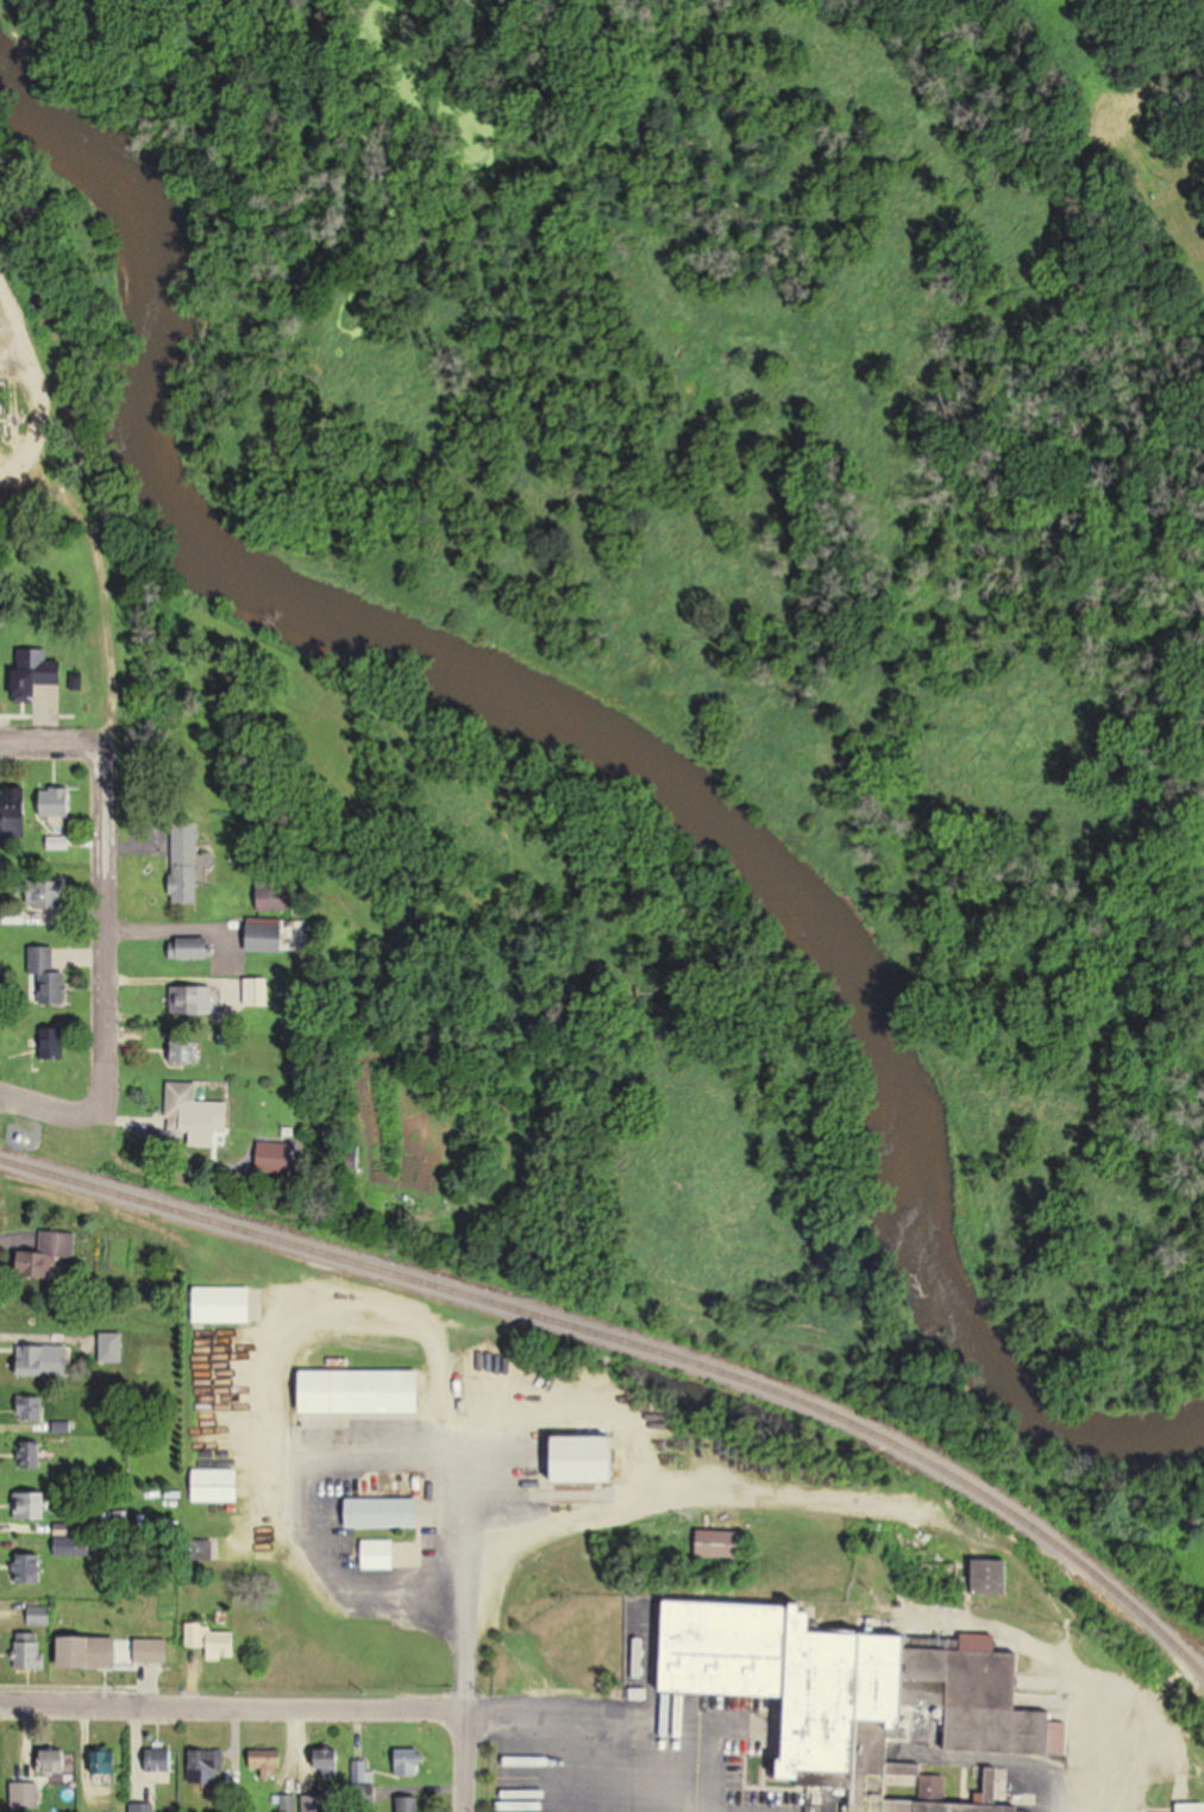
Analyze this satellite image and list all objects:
river: (12, 23)
road: (30, 409)
road: (14, 472)
road: (96, 551)
building: (37, 670)
road: (35, 714)
road: (51, 733)
river: (579, 759)
building: (57, 801)
building: (184, 863)
road: (99, 867)
building: (271, 897)
building: (266, 936)
building: (48, 974)
building: (257, 991)
building: (196, 998)
building: (54, 1042)
building: (183, 1051)
building: (182, 1106)
road: (62, 1108)
building: (50, 1256)
building: (222, 1305)
railway: (637, 1346)
building: (42, 1361)
building: (362, 1392)
building: (30, 1410)
building: (589, 1457)
building: (215, 1486)
road: (464, 1486)
road: (809, 1496)
building: (31, 1504)
building: (383, 1512)
road: (289, 1517)
building: (70, 1541)
building: (721, 1543)
building: (377, 1555)
building: (27, 1568)
building: (989, 1576)
building: (38, 1615)
building: (213, 1641)
building: (152, 1650)
building: (90, 1651)
building: (30, 1655)
road: (1041, 1660)
building: (849, 1695)
road: (230, 1707)
road: (592, 1735)
building: (266, 1758)
building: (161, 1761)
building: (54, 1762)
building: (105, 1762)
road: (458, 1762)
building: (410, 1763)
building: (207, 1764)
building: (362, 1773)
building: (1193, 1807)

